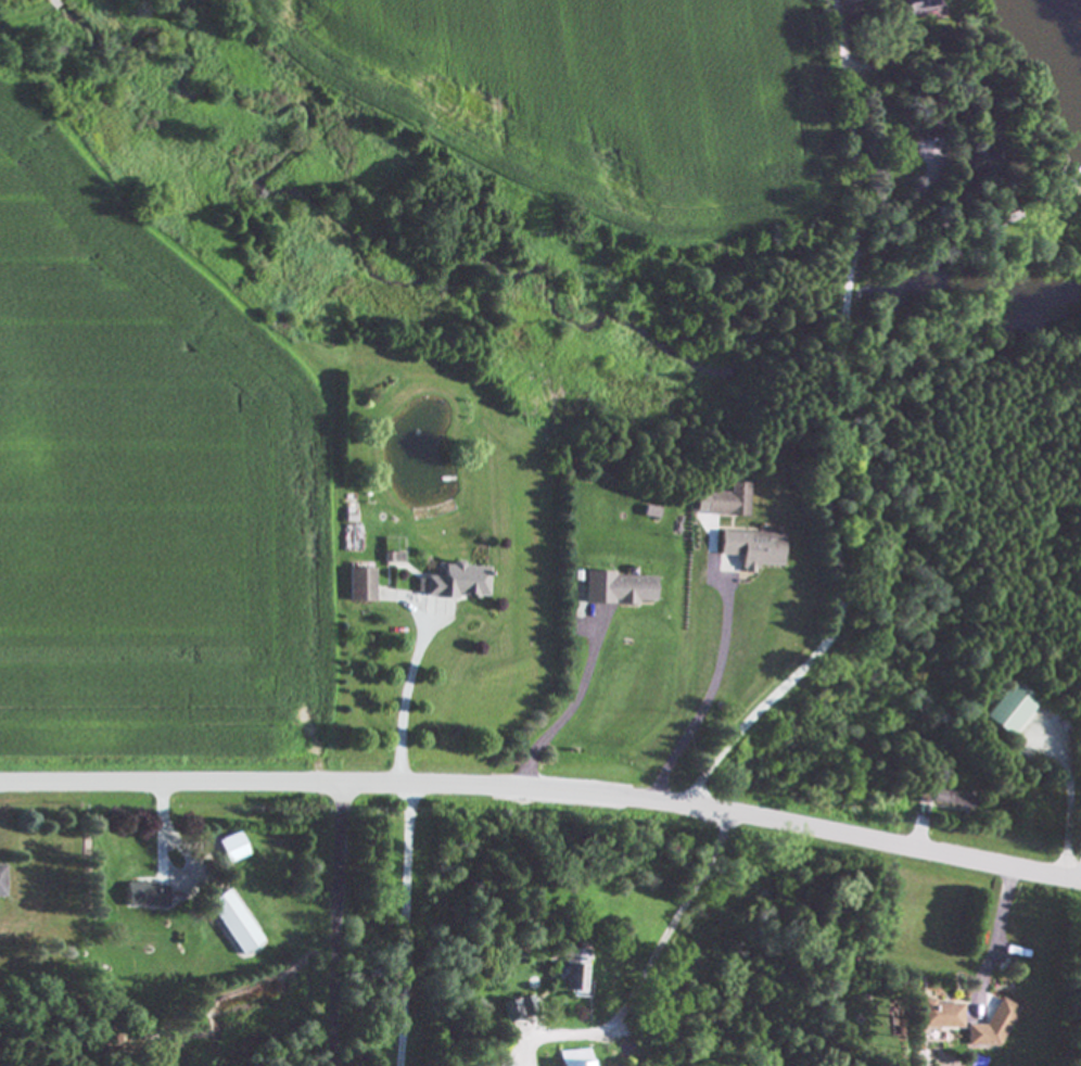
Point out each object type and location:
building: (918, 7)
river: (1056, 46)
building: (976, 163)
road: (834, 428)
building: (720, 500)
building: (747, 548)
building: (389, 557)
building: (452, 582)
building: (357, 584)
building: (614, 588)
road: (708, 699)
building: (1006, 708)
road: (571, 712)
road: (544, 787)
building: (951, 799)
road: (1068, 802)
road: (919, 830)
road: (407, 840)
building: (229, 848)
building: (0, 881)
building: (142, 896)
building: (229, 922)
road: (339, 923)
road: (997, 937)
road: (646, 969)
building: (572, 973)
building: (517, 1008)
building: (937, 1015)
building: (990, 1027)
building: (571, 1058)

